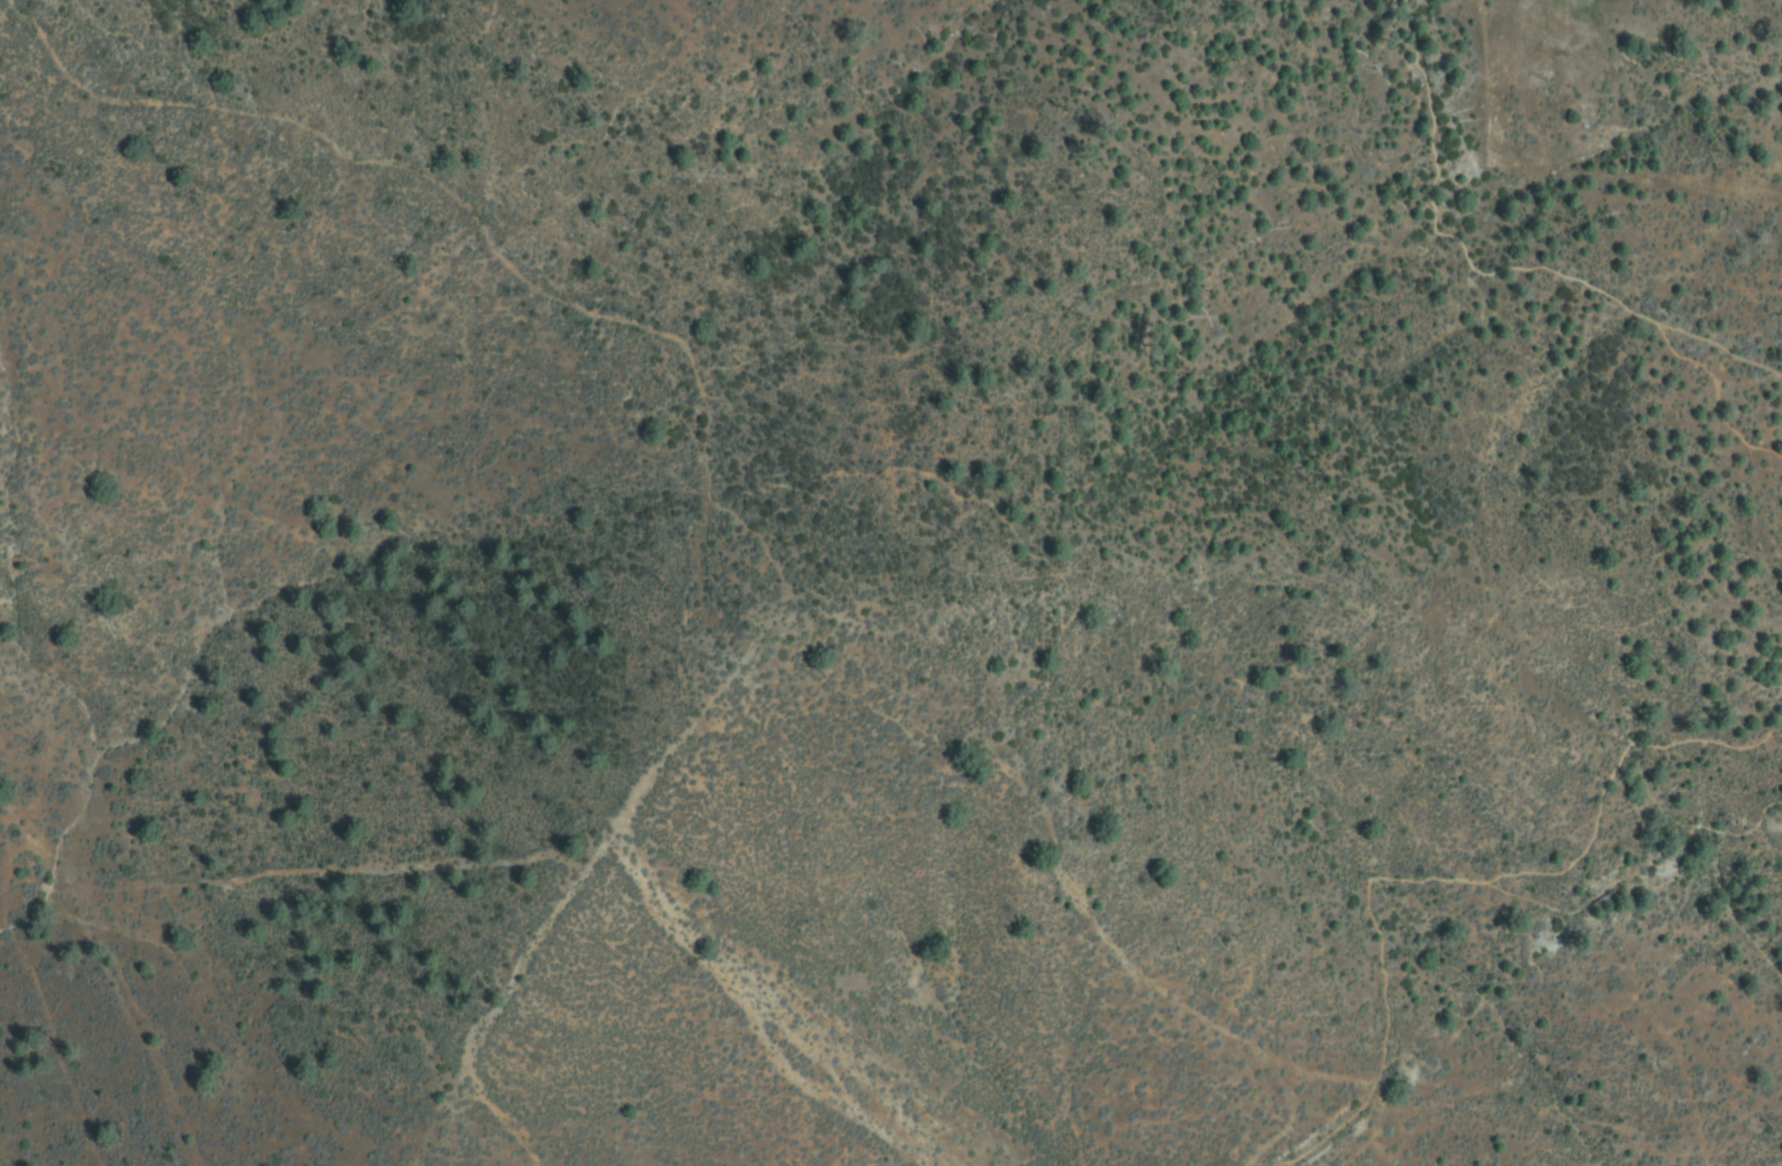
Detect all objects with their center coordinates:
road: (1526, 271)
road: (1444, 874)

